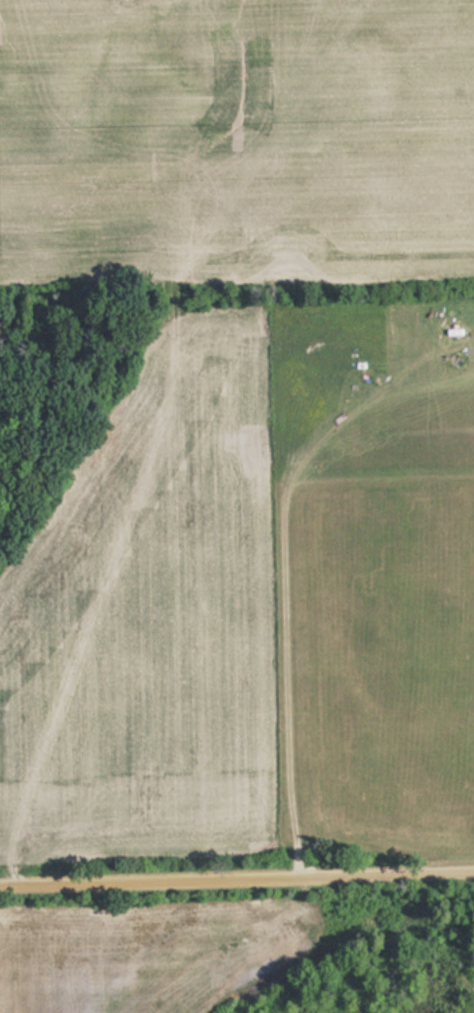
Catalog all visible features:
road: (237, 882)

